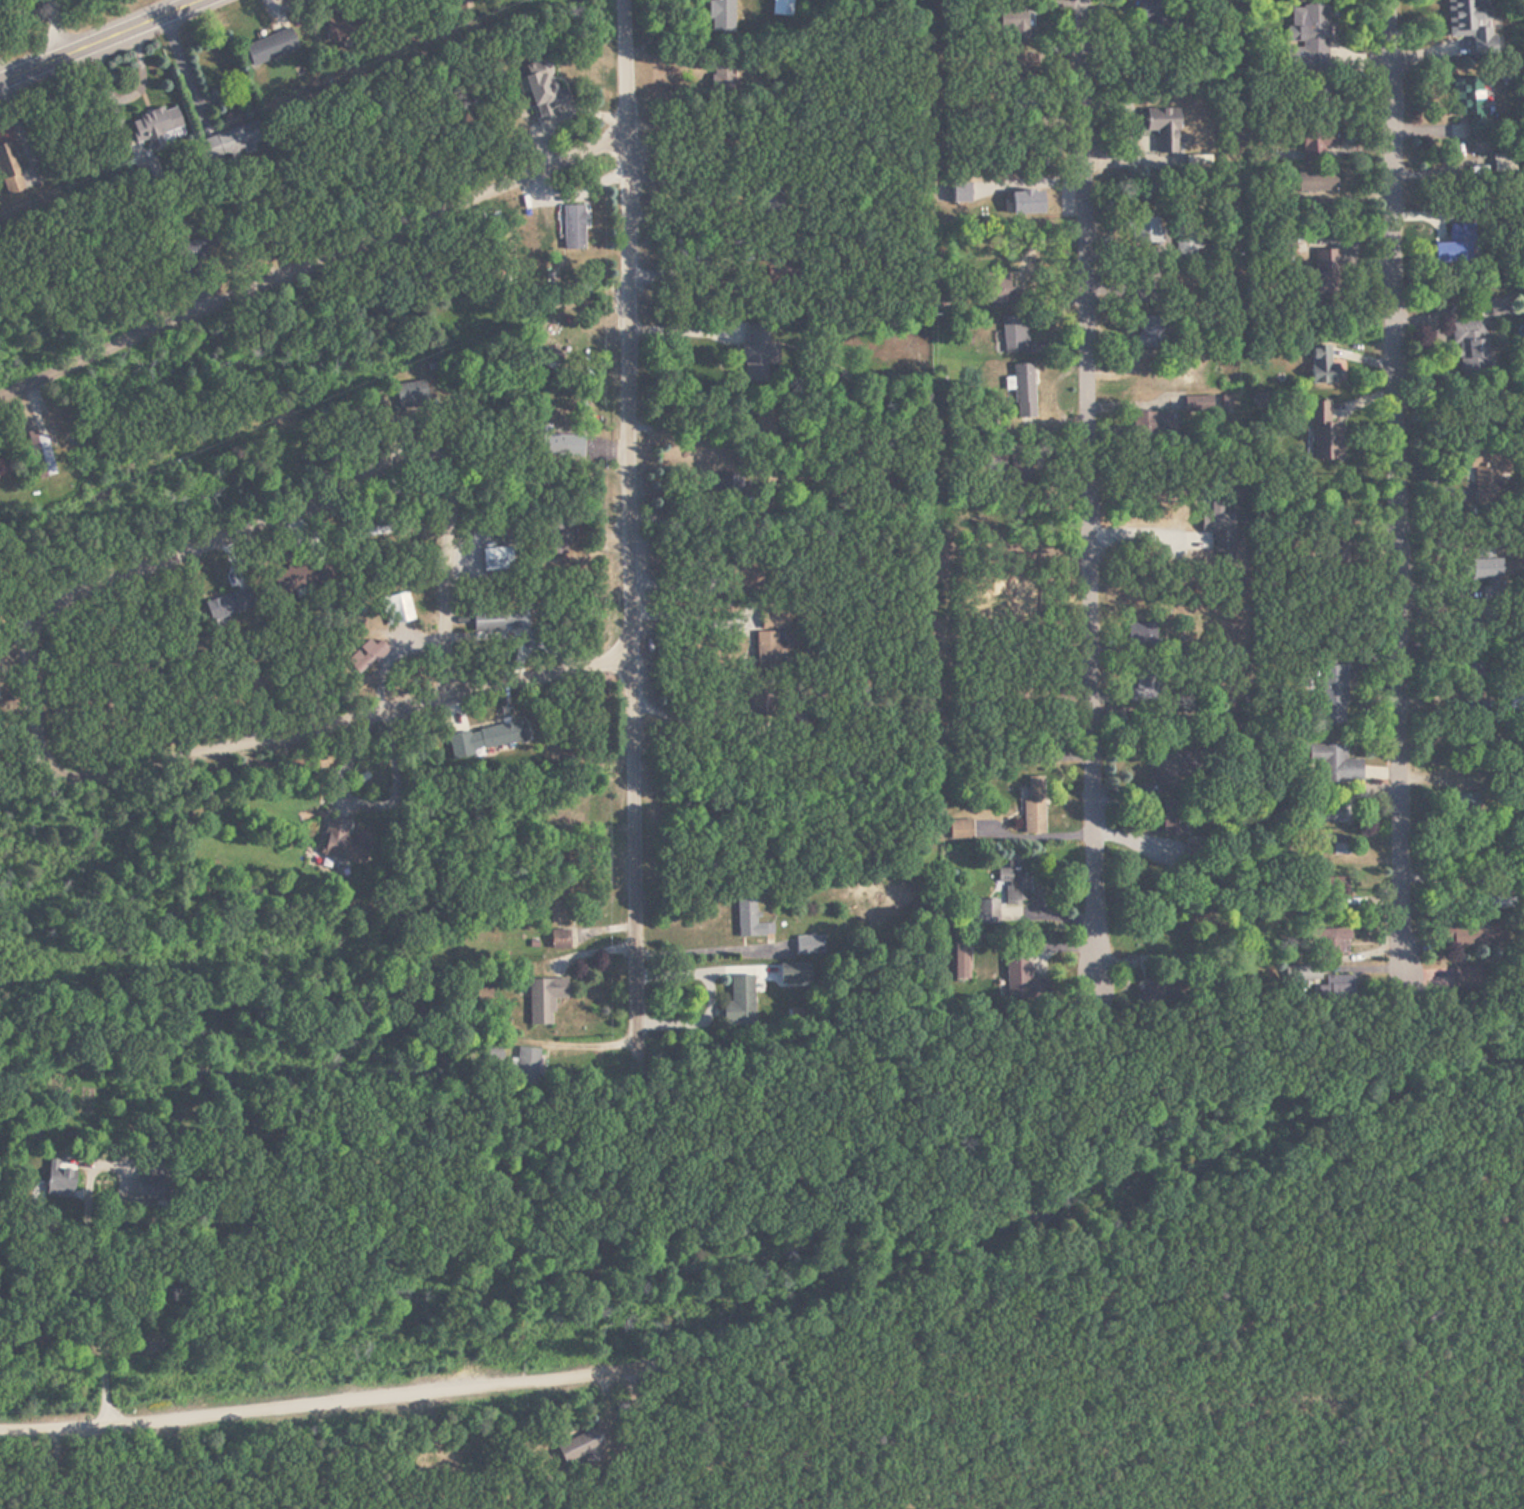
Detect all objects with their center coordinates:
building: (463, 4)
building: (781, 7)
building: (721, 15)
building: (1471, 25)
building: (1020, 27)
building: (1310, 27)
road: (49, 31)
road: (99, 40)
building: (270, 47)
building: (544, 92)
building: (1470, 105)
building: (156, 126)
building: (1160, 132)
building: (232, 143)
building: (1309, 150)
building: (10, 171)
building: (1316, 181)
building: (574, 224)
building: (1145, 232)
building: (1455, 246)
road: (317, 259)
building: (1326, 276)
building: (784, 278)
building: (999, 295)
building: (1152, 332)
building: (1014, 335)
building: (1470, 345)
building: (756, 352)
building: (1323, 365)
building: (1023, 392)
building: (410, 395)
building: (1323, 434)
building: (43, 456)
building: (1485, 475)
road: (1394, 480)
road: (635, 482)
road: (1096, 485)
building: (557, 527)
building: (1223, 543)
building: (496, 559)
building: (1484, 570)
building: (746, 572)
building: (291, 579)
building: (229, 604)
building: (397, 609)
building: (500, 622)
building: (1141, 635)
building: (769, 637)
building: (373, 651)
road: (543, 672)
building: (1145, 683)
building: (1333, 695)
building: (757, 700)
road: (44, 732)
building: (488, 739)
building: (1337, 765)
building: (1165, 769)
building: (1034, 805)
building: (1330, 810)
building: (1175, 817)
building: (959, 830)
building: (344, 841)
building: (1338, 845)
building: (1335, 887)
building: (1006, 891)
building: (557, 900)
building: (1495, 901)
building: (749, 919)
building: (1470, 936)
building: (558, 938)
building: (1338, 939)
building: (808, 945)
building: (1017, 969)
building: (794, 975)
building: (544, 998)
building: (741, 999)
road: (777, 1336)
building: (579, 1446)

